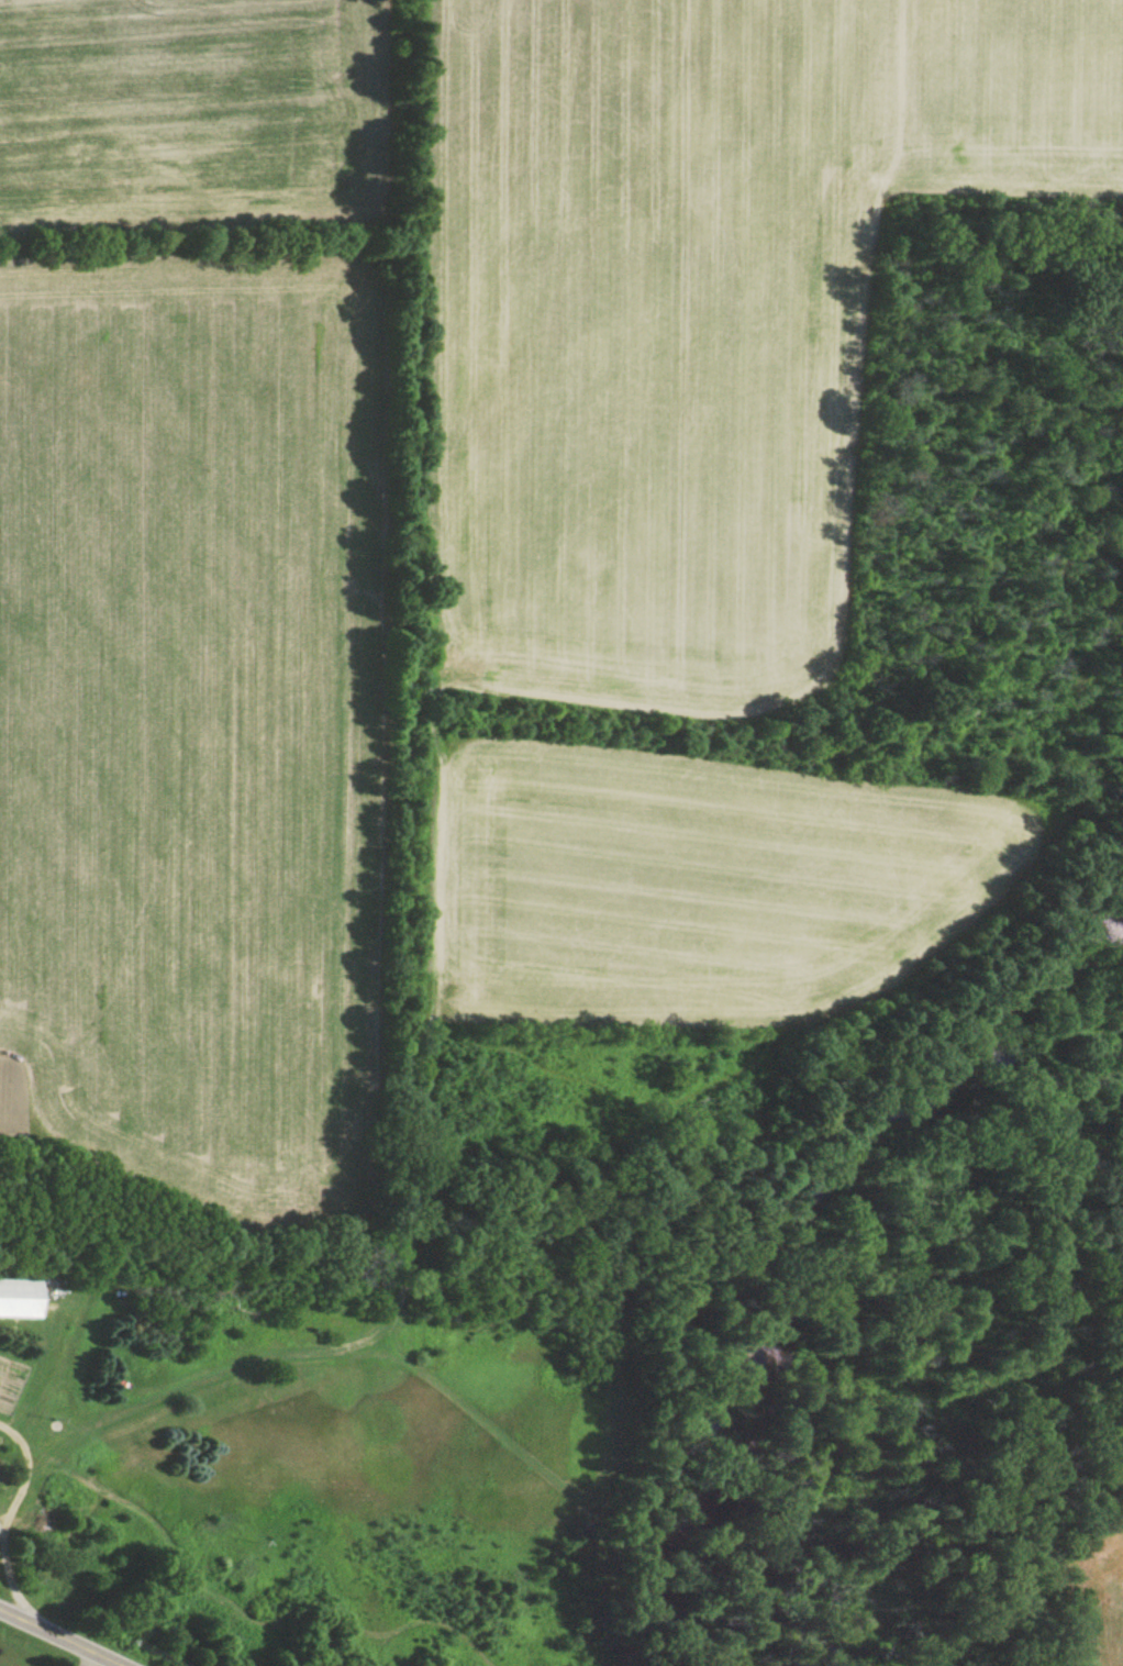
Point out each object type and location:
building: (20, 1300)
road: (62, 1637)

